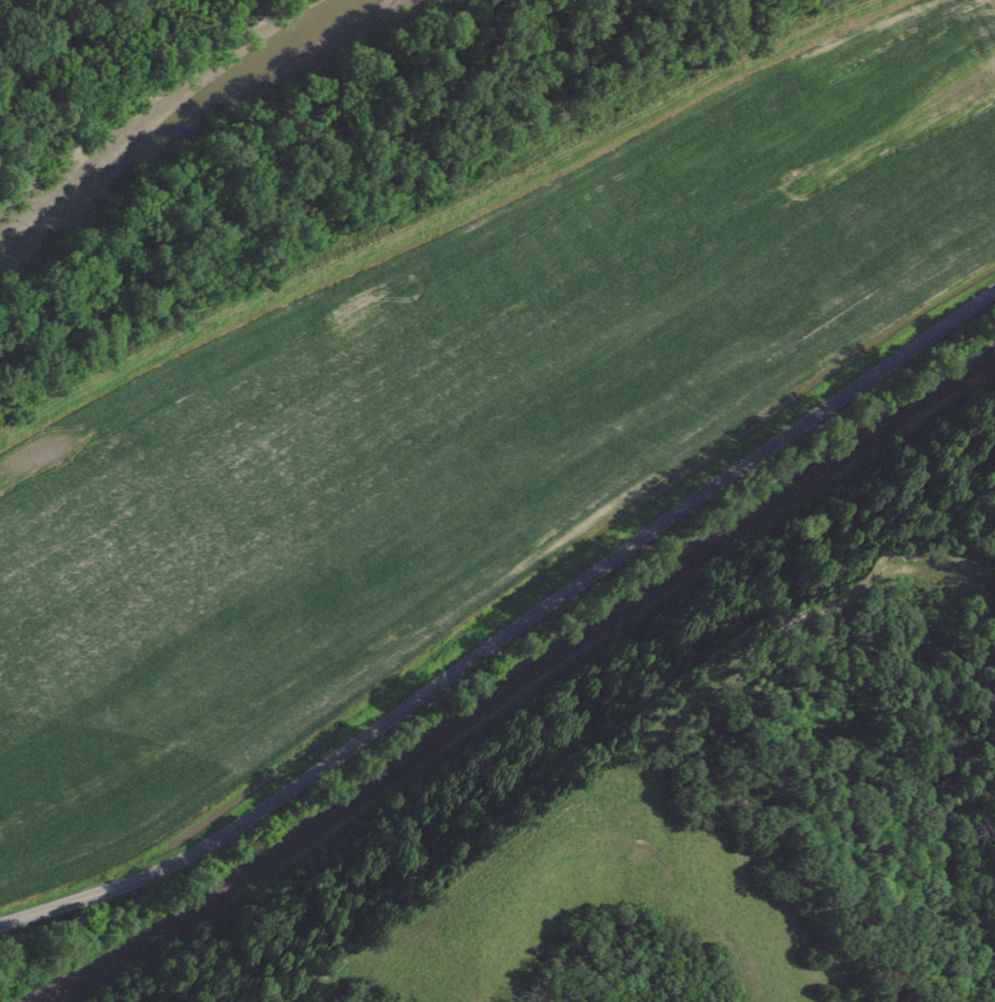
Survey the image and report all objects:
road: (510, 630)
railway: (512, 672)
railway: (524, 680)

